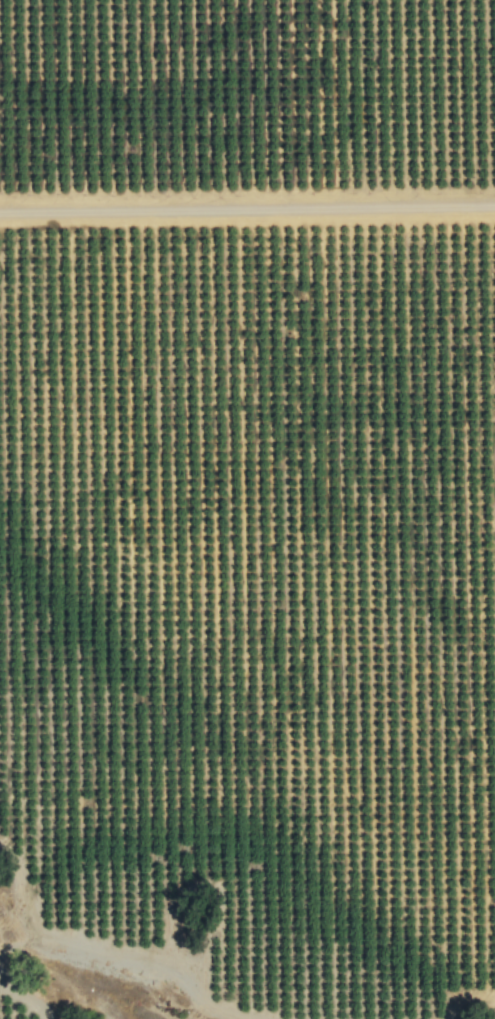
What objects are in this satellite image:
road: (247, 208)

